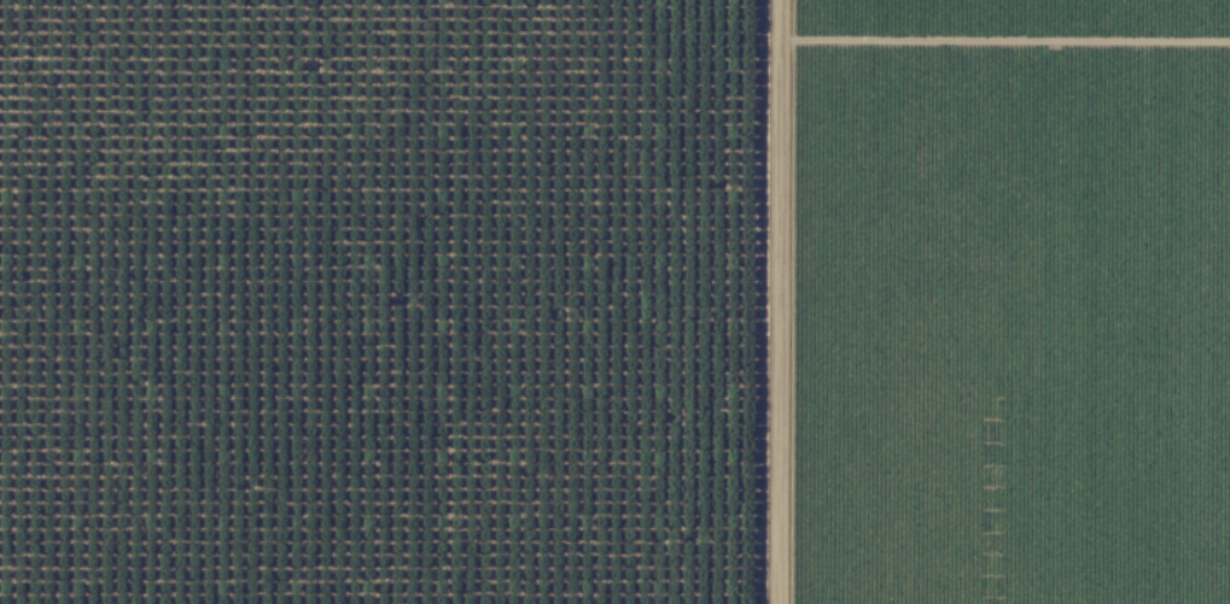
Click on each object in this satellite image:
road: (792, 301)

